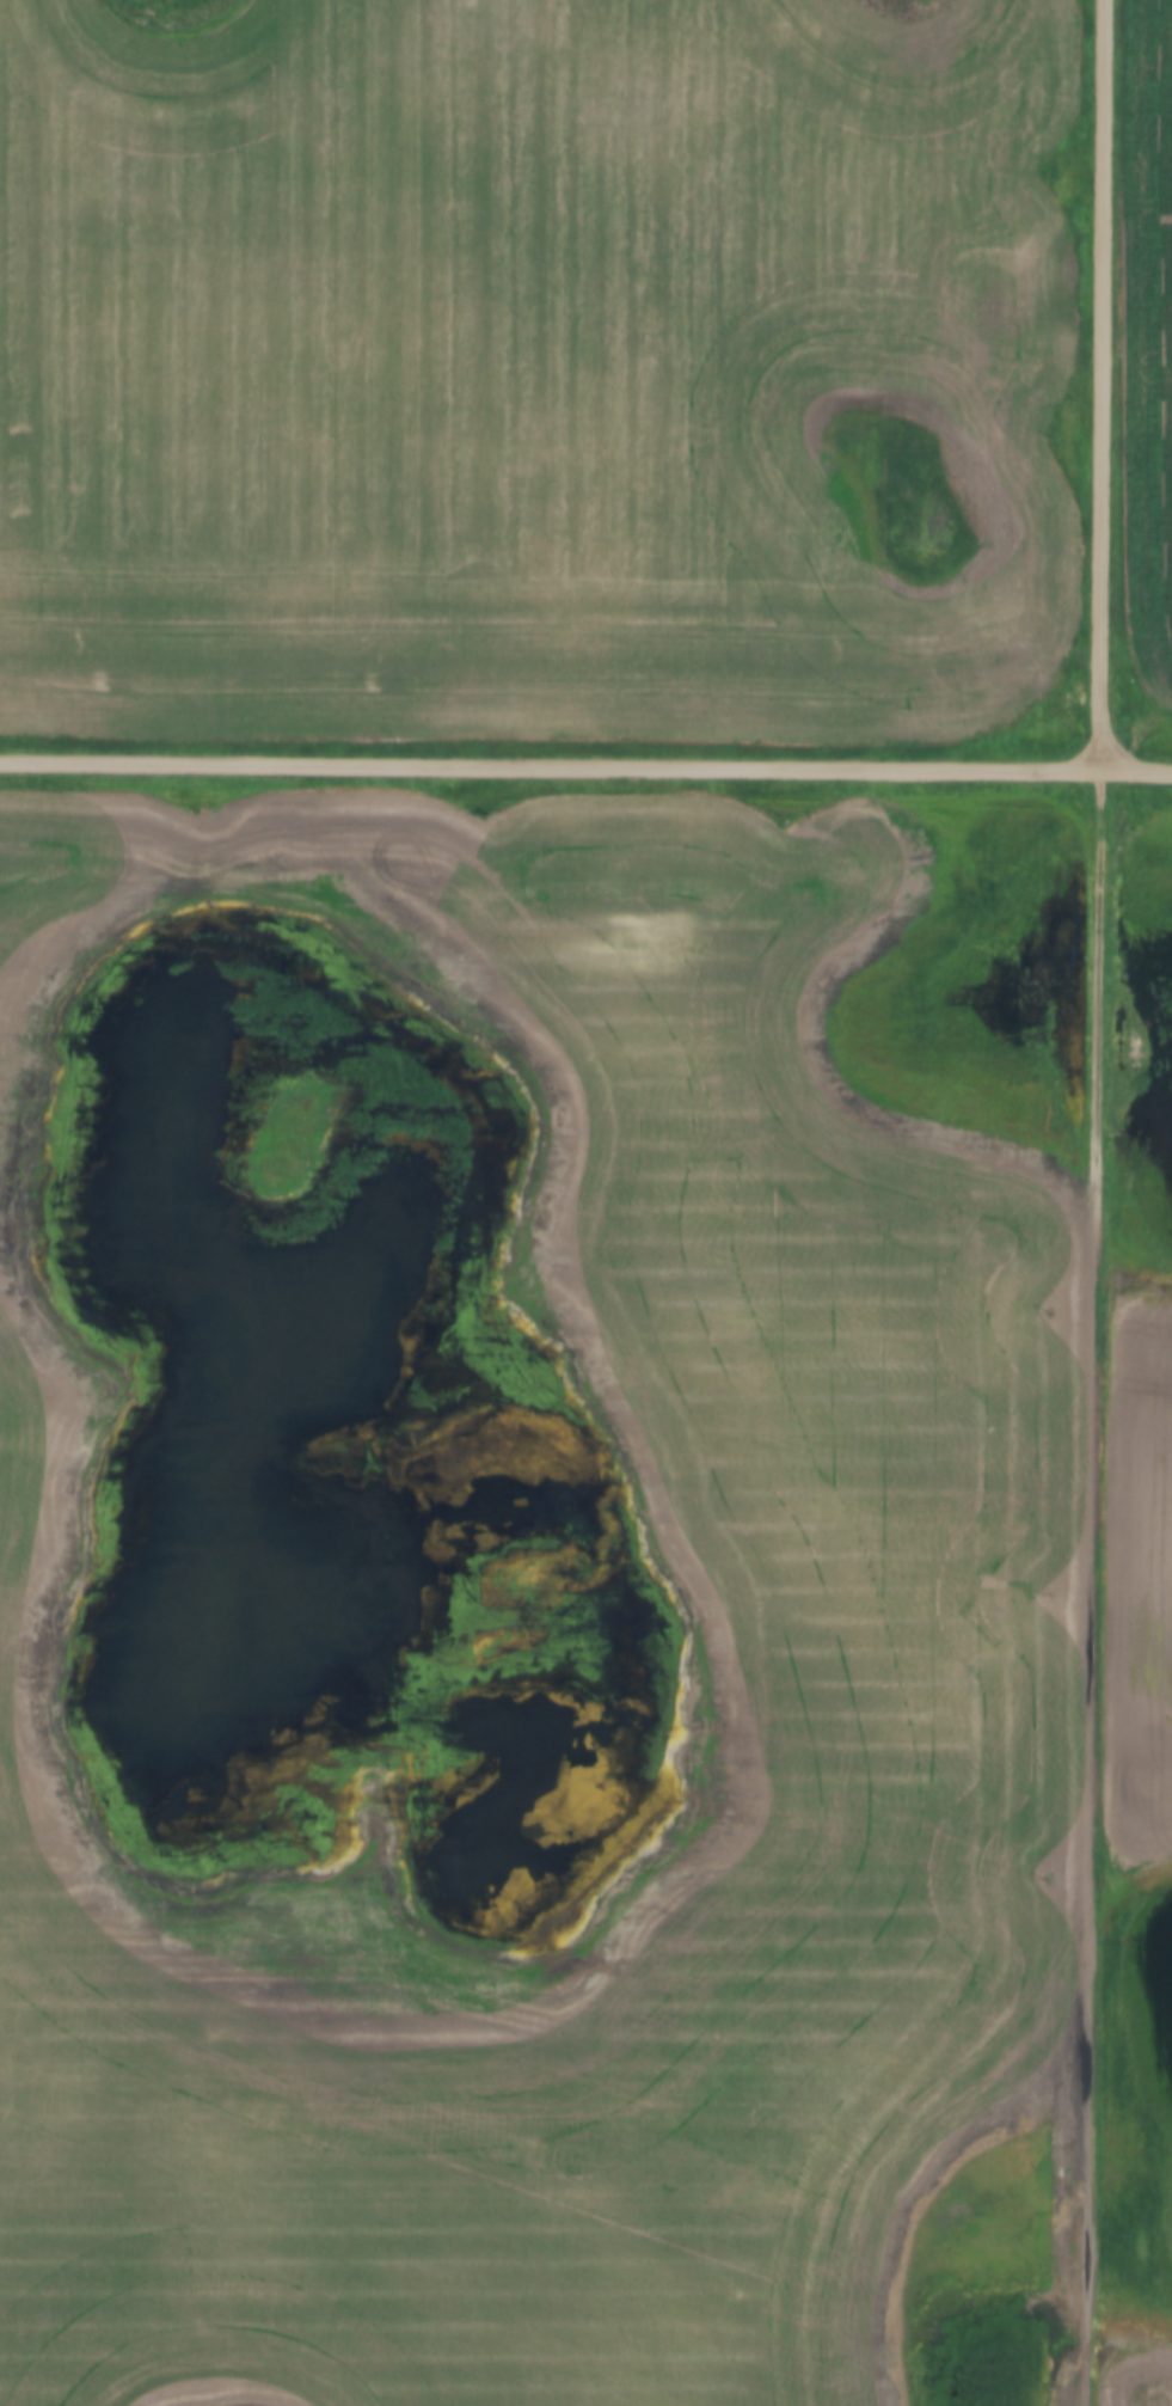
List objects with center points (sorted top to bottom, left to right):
road: (1103, 386)
road: (585, 769)
road: (1094, 1588)

